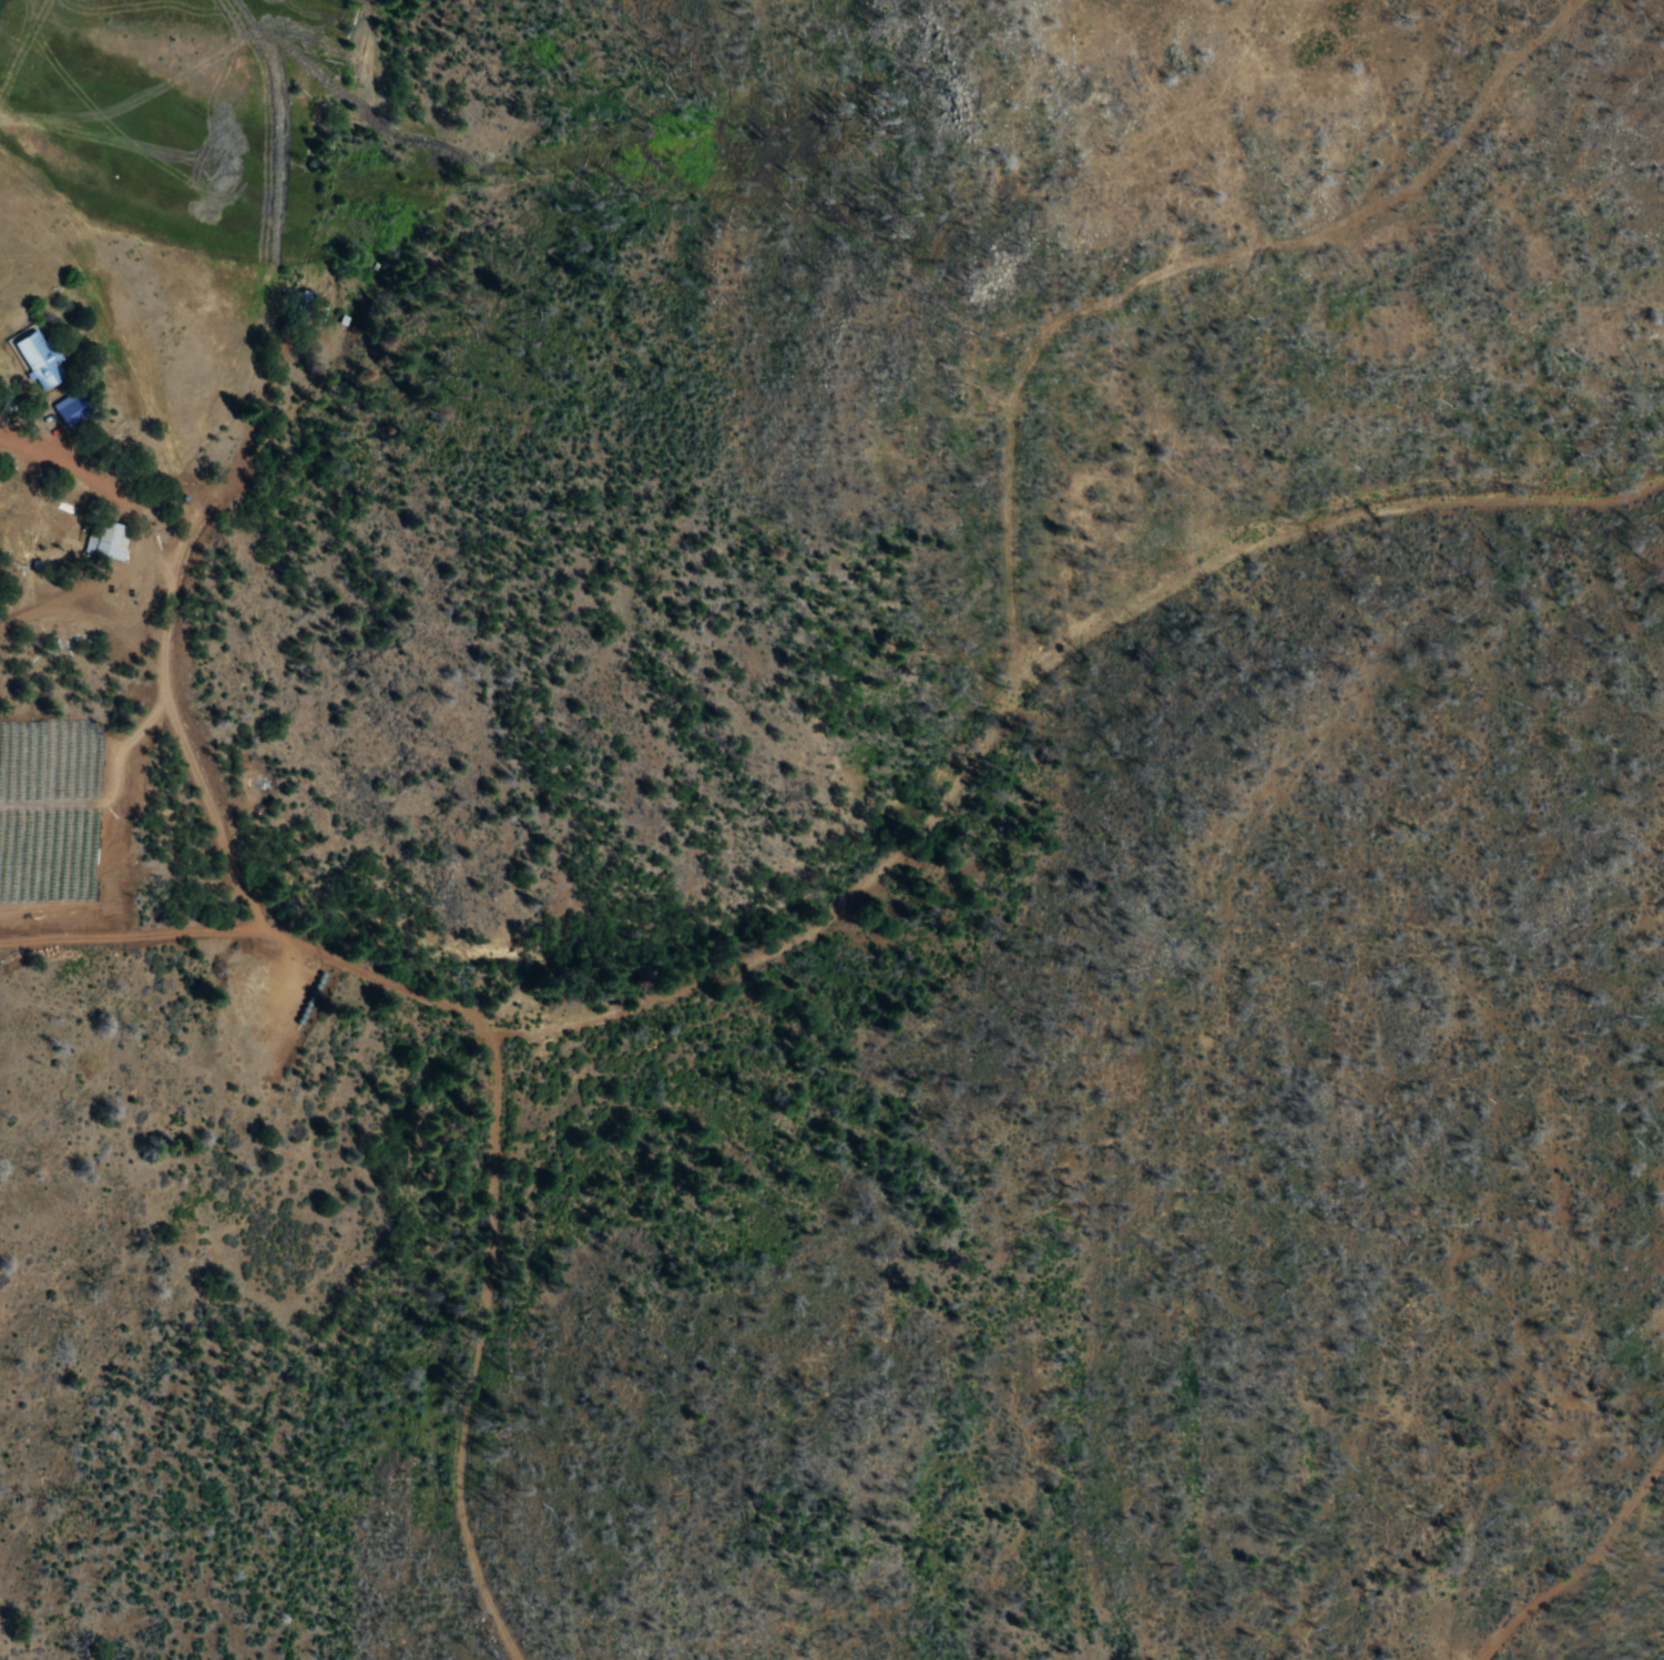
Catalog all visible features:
road: (1172, 265)
road: (169, 618)
road: (1029, 665)
road: (487, 1092)
road: (1578, 1564)

